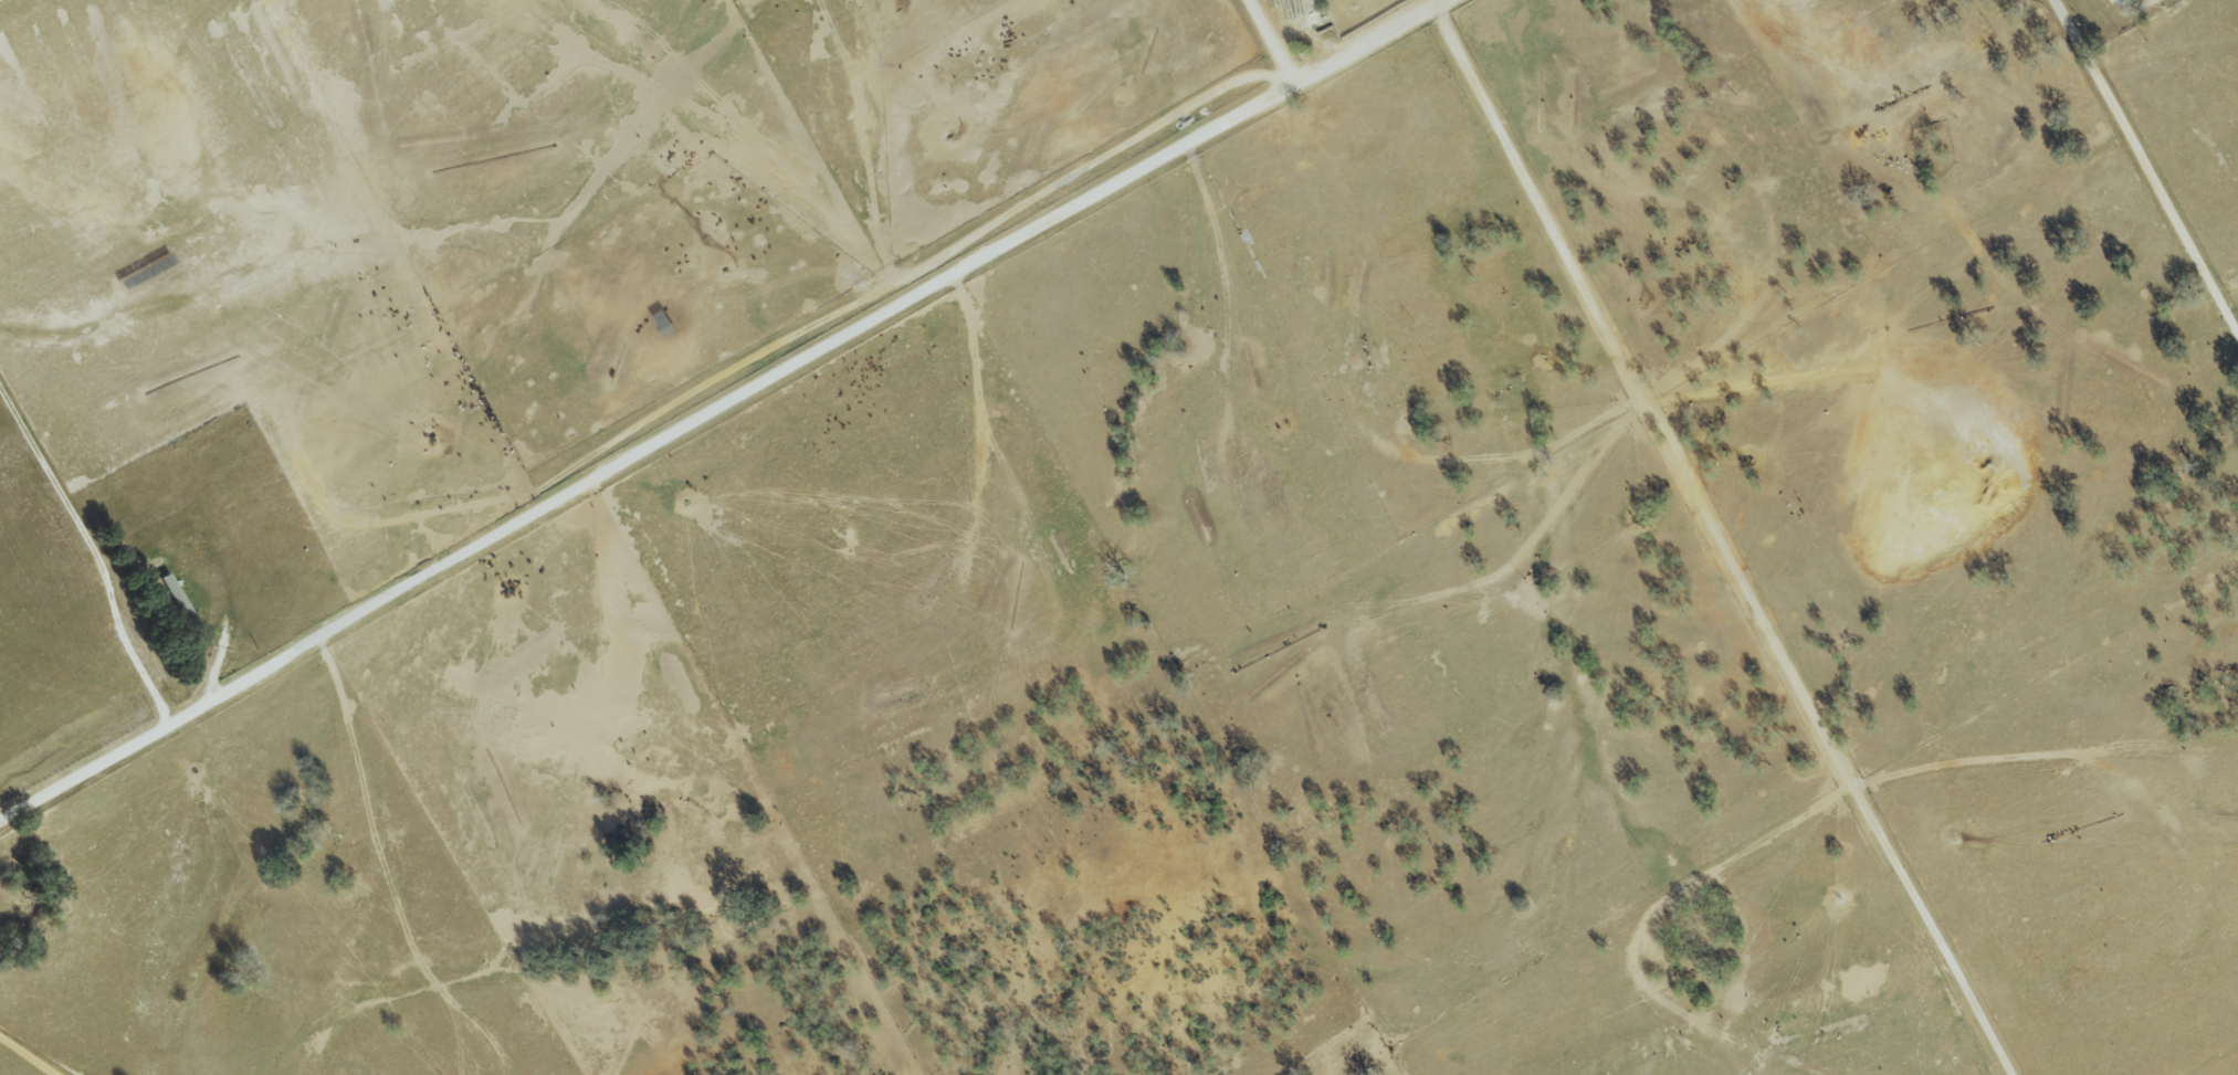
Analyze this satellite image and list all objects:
road: (1280, 39)
road: (2148, 158)
road: (717, 407)
road: (1720, 540)
road: (94, 558)
road: (31, 1054)

